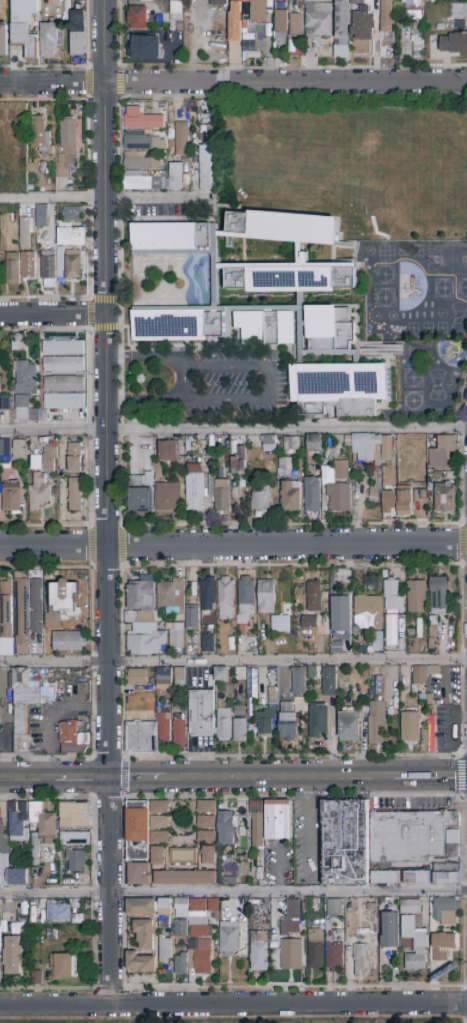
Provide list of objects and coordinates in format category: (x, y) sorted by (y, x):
building: (245, 1)
building: (356, 1)
building: (432, 1)
building: (218, 2)
building: (269, 7)
building: (413, 9)
building: (246, 10)
building: (376, 10)
building: (258, 11)
building: (459, 11)
building: (176, 12)
building: (386, 17)
building: (137, 19)
building: (318, 20)
building: (280, 22)
building: (235, 23)
building: (341, 23)
building: (362, 24)
building: (25, 25)
building: (295, 25)
building: (452, 25)
building: (180, 27)
building: (440, 27)
building: (78, 33)
building: (179, 35)
building: (49, 39)
building: (3, 41)
building: (418, 42)
building: (454, 44)
building: (146, 48)
road: (292, 67)
road: (233, 81)
road: (87, 83)
road: (119, 83)
road: (247, 96)
building: (194, 105)
building: (163, 107)
building: (142, 120)
building: (209, 132)
building: (6, 135)
building: (40, 136)
building: (181, 139)
building: (142, 142)
road: (88, 145)
building: (170, 145)
building: (66, 147)
building: (194, 151)
building: (188, 160)
building: (141, 162)
building: (2, 163)
building: (31, 169)
building: (204, 171)
building: (174, 178)
building: (143, 183)
building: (30, 188)
road: (89, 198)
road: (149, 198)
road: (52, 199)
road: (119, 199)
building: (72, 214)
building: (42, 216)
building: (281, 228)
building: (23, 231)
building: (71, 237)
building: (174, 239)
road: (89, 253)
building: (59, 264)
building: (72, 265)
building: (29, 267)
building: (13, 269)
building: (48, 270)
building: (290, 279)
road: (90, 314)
road: (52, 315)
building: (176, 325)
building: (266, 328)
building: (329, 328)
building: (19, 339)
building: (15, 346)
building: (63, 348)
building: (370, 351)
building: (63, 365)
road: (267, 381)
building: (64, 384)
road: (182, 385)
building: (340, 389)
building: (25, 390)
building: (64, 401)
building: (5, 404)
road: (465, 408)
building: (388, 417)
road: (91, 428)
road: (233, 430)
building: (271, 444)
building: (291, 444)
building: (314, 444)
building: (6, 447)
building: (386, 449)
building: (20, 451)
building: (168, 451)
building: (442, 453)
building: (75, 458)
building: (369, 458)
building: (239, 459)
building: (5, 461)
building: (45, 461)
building: (284, 467)
building: (158, 469)
building: (430, 484)
building: (198, 487)
building: (337, 488)
building: (39, 492)
building: (140, 493)
building: (75, 495)
building: (222, 495)
building: (313, 495)
building: (423, 495)
building: (430, 495)
building: (11, 497)
building: (291, 497)
building: (445, 497)
building: (169, 498)
building: (261, 500)
building: (388, 500)
road: (106, 503)
building: (404, 503)
building: (424, 509)
road: (185, 525)
road: (462, 544)
road: (233, 545)
road: (122, 546)
road: (92, 547)
building: (333, 589)
building: (208, 594)
building: (438, 595)
building: (393, 596)
building: (171, 597)
building: (313, 597)
building: (416, 597)
building: (225, 598)
building: (266, 598)
building: (141, 602)
building: (246, 602)
building: (64, 604)
building: (36, 606)
building: (6, 610)
building: (368, 612)
building: (21, 614)
building: (205, 614)
building: (341, 615)
building: (192, 618)
building: (309, 622)
building: (280, 624)
building: (433, 627)
building: (355, 630)
building: (391, 631)
building: (175, 637)
building: (426, 640)
building: (68, 642)
building: (340, 642)
building: (208, 643)
building: (432, 643)
building: (147, 644)
building: (34, 648)
building: (363, 650)
building: (370, 650)
road: (233, 662)
building: (433, 672)
building: (312, 673)
building: (163, 674)
building: (376, 674)
building: (221, 675)
building: (419, 675)
building: (180, 676)
building: (241, 676)
building: (137, 677)
building: (210, 681)
building: (251, 681)
building: (152, 682)
building: (298, 682)
building: (329, 682)
building: (27, 689)
building: (414, 689)
building: (407, 691)
building: (272, 694)
building: (422, 697)
building: (430, 700)
building: (175, 704)
building: (184, 707)
building: (238, 711)
building: (201, 714)
road: (47, 715)
building: (20, 720)
building: (318, 720)
building: (0, 721)
building: (83, 722)
building: (265, 722)
building: (377, 722)
building: (288, 723)
building: (223, 725)
building: (349, 727)
building: (410, 727)
building: (164, 728)
building: (10, 730)
building: (179, 731)
building: (240, 731)
building: (68, 733)
building: (428, 735)
building: (141, 738)
building: (21, 744)
building: (85, 749)
road: (123, 756)
road: (461, 776)
road: (233, 777)
road: (124, 778)
road: (293, 796)
building: (159, 807)
building: (207, 807)
building: (35, 814)
building: (75, 816)
building: (278, 821)
building: (207, 822)
building: (18, 823)
building: (159, 823)
building: (257, 824)
building: (138, 825)
building: (47, 828)
building: (226, 830)
building: (243, 833)
building: (410, 835)
building: (159, 838)
building: (206, 838)
building: (74, 839)
building: (345, 843)
building: (454, 844)
building: (262, 854)
building: (158, 856)
building: (183, 856)
building: (209, 856)
building: (3, 860)
building: (75, 861)
building: (227, 864)
building: (139, 874)
building: (446, 875)
building: (17, 877)
building: (416, 877)
building: (185, 878)
building: (386, 878)
building: (230, 881)
road: (233, 893)
building: (255, 903)
building: (213, 905)
building: (316, 906)
building: (141, 907)
building: (372, 907)
building: (410, 907)
building: (181, 908)
building: (334, 908)
building: (446, 911)
building: (49, 913)
building: (164, 913)
building: (215, 917)
building: (198, 919)
building: (291, 919)
building: (316, 924)
building: (373, 928)
building: (180, 929)
building: (18, 930)
building: (390, 931)
building: (362, 932)
building: (144, 934)
building: (229, 939)
building: (273, 942)
building: (414, 945)
building: (443, 946)
building: (164, 949)
building: (315, 949)
building: (259, 952)
building: (333, 954)
building: (275, 955)
building: (291, 955)
building: (13, 956)
building: (201, 958)
building: (361, 960)
building: (140, 963)
building: (180, 964)
building: (64, 966)
building: (386, 970)
building: (37, 978)
road: (233, 1006)

